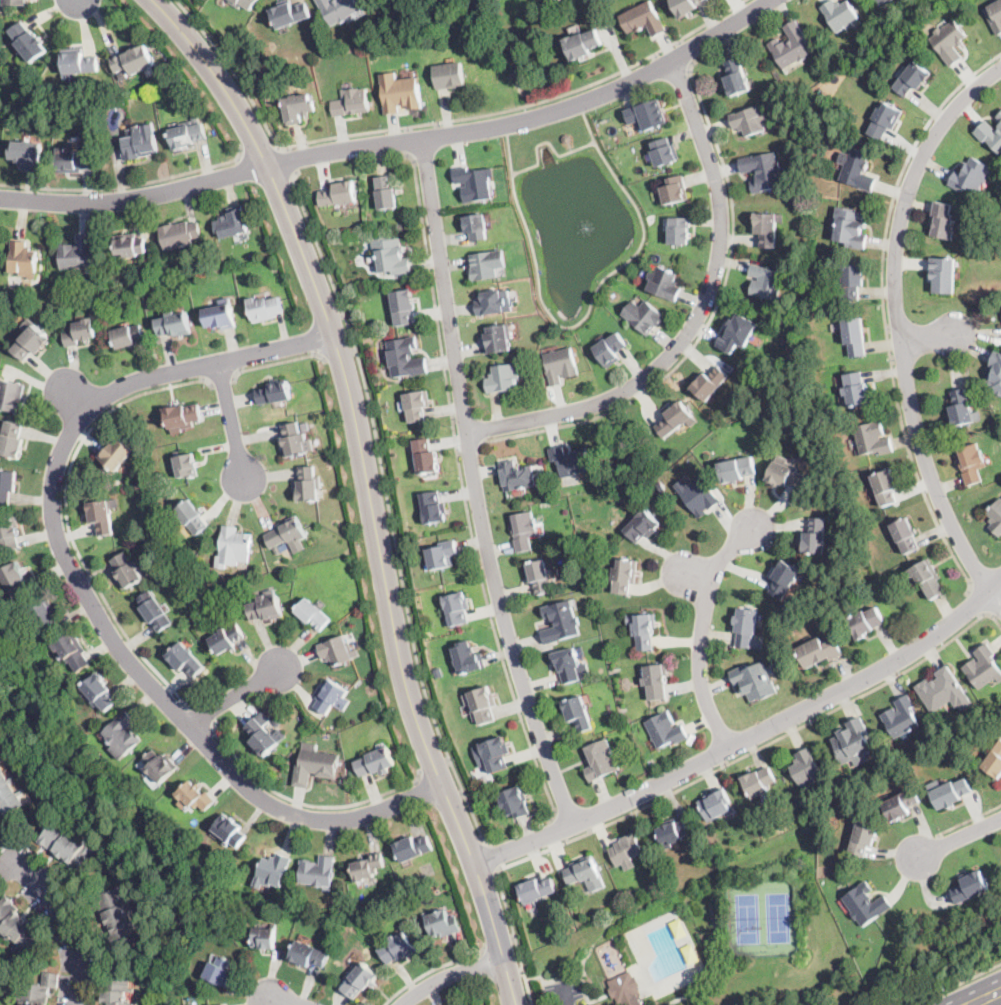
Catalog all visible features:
building: (891, 0)
building: (881, 1)
building: (17, 3)
building: (243, 3)
building: (686, 6)
building: (339, 9)
building: (290, 14)
building: (841, 15)
building: (995, 16)
building: (643, 19)
building: (28, 42)
building: (949, 42)
building: (583, 45)
building: (792, 46)
road: (685, 51)
building: (77, 61)
building: (133, 61)
building: (448, 75)
building: (123, 76)
road: (217, 77)
building: (736, 78)
building: (912, 79)
building: (400, 93)
building: (71, 100)
building: (352, 102)
building: (298, 108)
building: (647, 115)
building: (999, 116)
road: (531, 117)
building: (885, 120)
building: (750, 121)
road: (434, 123)
building: (187, 135)
building: (990, 135)
road: (409, 140)
building: (140, 142)
road: (262, 149)
building: (665, 151)
building: (28, 153)
building: (75, 161)
road: (287, 162)
building: (858, 170)
building: (763, 172)
building: (971, 176)
building: (475, 183)
road: (127, 185)
building: (675, 190)
building: (385, 191)
building: (339, 194)
road: (136, 197)
building: (943, 220)
building: (232, 224)
building: (476, 226)
building: (850, 227)
building: (767, 229)
building: (679, 230)
building: (181, 235)
building: (130, 245)
building: (77, 253)
building: (391, 256)
building: (21, 258)
building: (487, 265)
building: (943, 274)
building: (121, 276)
building: (852, 280)
building: (766, 282)
building: (664, 283)
building: (264, 286)
building: (490, 304)
building: (403, 306)
building: (265, 308)
road: (884, 311)
building: (220, 315)
building: (644, 316)
road: (699, 316)
road: (708, 321)
building: (173, 324)
road: (900, 331)
building: (80, 332)
building: (737, 333)
building: (128, 336)
building: (855, 337)
building: (498, 338)
road: (929, 338)
building: (32, 343)
building: (610, 348)
road: (340, 355)
building: (405, 358)
road: (277, 363)
building: (561, 365)
building: (995, 373)
road: (222, 379)
building: (503, 379)
building: (710, 384)
building: (857, 389)
building: (274, 393)
building: (12, 395)
road: (77, 399)
building: (417, 404)
building: (961, 408)
building: (182, 417)
building: (676, 419)
road: (231, 420)
building: (995, 423)
building: (305, 427)
building: (873, 438)
building: (294, 439)
building: (12, 441)
road: (469, 451)
building: (117, 454)
building: (426, 456)
building: (571, 460)
building: (972, 463)
building: (187, 466)
building: (738, 469)
building: (785, 474)
building: (517, 475)
building: (308, 484)
building: (7, 485)
building: (886, 486)
road: (477, 487)
road: (463, 490)
building: (698, 496)
building: (433, 508)
road: (391, 511)
building: (103, 515)
road: (67, 516)
building: (191, 516)
building: (996, 517)
building: (643, 526)
building: (523, 530)
building: (9, 533)
building: (286, 533)
building: (905, 535)
building: (815, 536)
building: (232, 546)
building: (443, 555)
building: (127, 570)
building: (538, 575)
building: (624, 575)
road: (697, 577)
building: (928, 578)
building: (784, 579)
building: (15, 582)
road: (387, 585)
road: (89, 594)
road: (976, 604)
building: (266, 607)
building: (457, 609)
building: (155, 611)
road: (997, 611)
building: (313, 614)
building: (48, 617)
building: (561, 622)
building: (866, 622)
building: (747, 629)
building: (645, 631)
road: (701, 633)
building: (226, 639)
building: (73, 651)
building: (338, 651)
building: (819, 652)
building: (468, 658)
building: (185, 659)
building: (984, 665)
building: (571, 666)
building: (656, 681)
building: (755, 681)
building: (944, 691)
building: (100, 692)
road: (235, 694)
building: (330, 696)
building: (481, 705)
building: (578, 713)
road: (203, 716)
building: (901, 717)
building: (666, 730)
building: (262, 734)
building: (122, 735)
road: (748, 737)
building: (853, 743)
building: (493, 754)
building: (602, 760)
building: (376, 762)
building: (994, 763)
building: (315, 765)
building: (160, 766)
road: (435, 769)
building: (806, 769)
road: (696, 780)
building: (759, 781)
building: (9, 792)
building: (951, 794)
building: (195, 796)
building: (516, 802)
road: (304, 804)
building: (901, 804)
building: (715, 805)
road: (970, 820)
building: (229, 830)
road: (558, 830)
building: (672, 832)
road: (959, 837)
building: (864, 838)
building: (70, 847)
building: (413, 848)
building: (626, 849)
road: (495, 857)
road: (7, 865)
building: (368, 867)
building: (272, 871)
building: (317, 872)
building: (586, 873)
building: (971, 887)
building: (537, 889)
building: (866, 904)
road: (60, 914)
building: (118, 917)
park: (763, 917)
building: (442, 924)
building: (19, 929)
building: (265, 938)
road: (501, 943)
building: (398, 948)
building: (309, 954)
road: (434, 969)
building: (219, 971)
road: (449, 975)
road: (567, 977)
building: (360, 980)
road: (957, 984)
building: (625, 987)
building: (115, 988)
building: (37, 990)
road: (567, 995)
road: (983, 996)
road: (680, 997)
road: (289, 1001)
building: (222, 1004)

